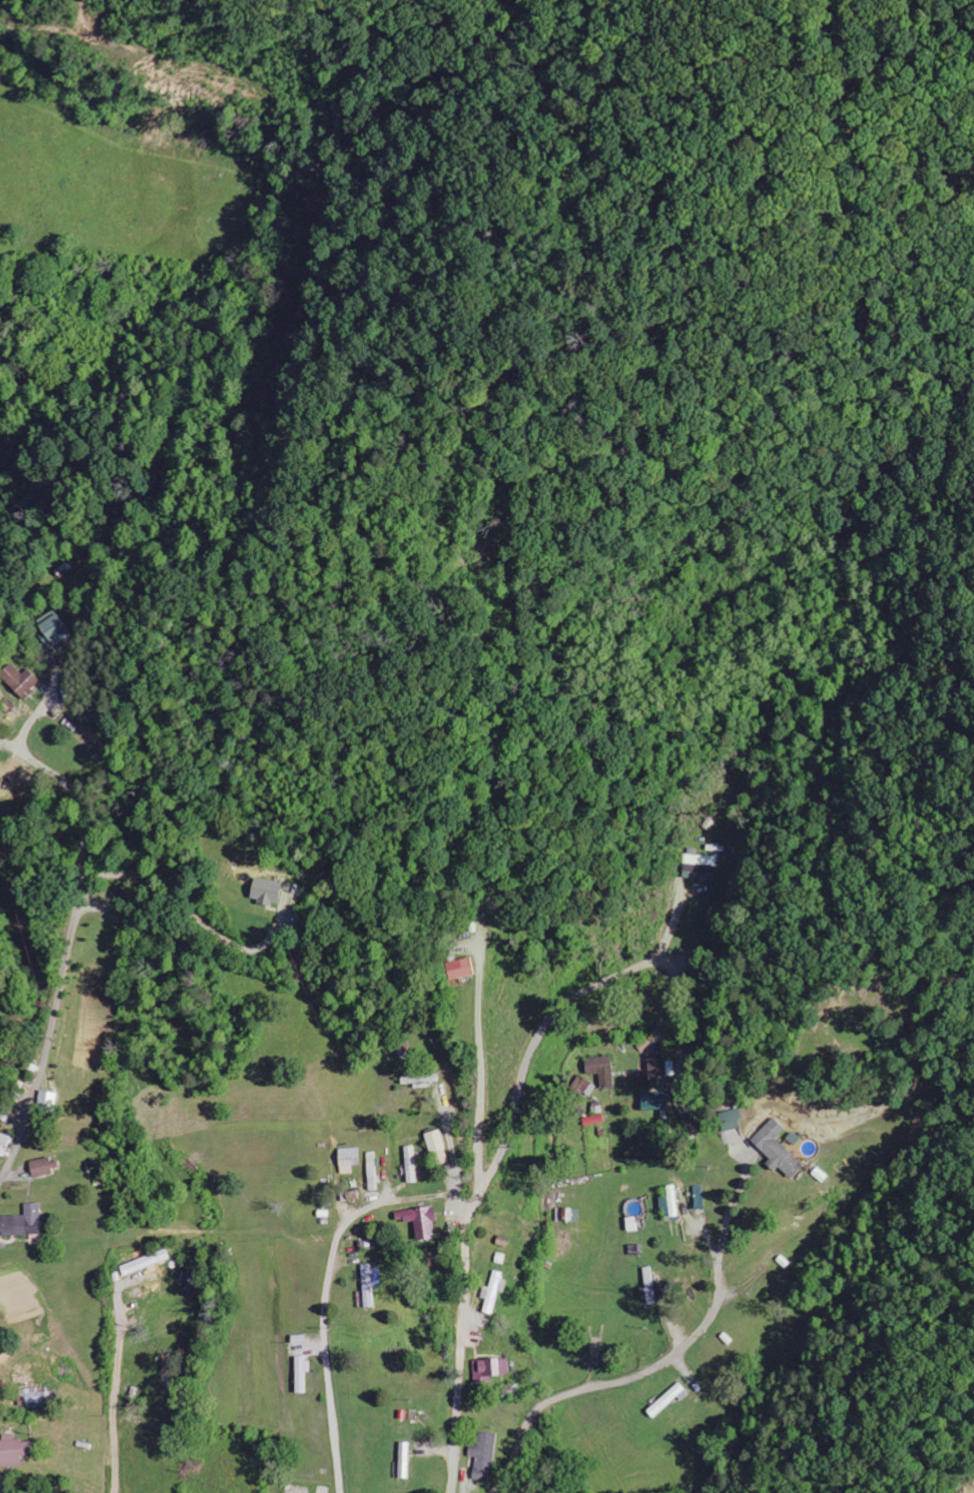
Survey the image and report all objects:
building: (55, 630)
building: (22, 680)
building: (697, 867)
building: (265, 891)
road: (69, 950)
building: (461, 968)
building: (655, 1064)
building: (599, 1070)
building: (419, 1079)
building: (583, 1086)
building: (46, 1100)
building: (653, 1101)
building: (731, 1119)
building: (689, 1124)
building: (3, 1144)
building: (776, 1149)
building: (348, 1160)
building: (409, 1164)
building: (42, 1167)
road: (495, 1167)
building: (372, 1172)
building: (670, 1201)
building: (566, 1215)
building: (418, 1221)
building: (21, 1222)
building: (502, 1242)
building: (144, 1263)
building: (369, 1284)
building: (648, 1285)
building: (493, 1292)
building: (489, 1368)
building: (300, 1374)
road: (616, 1383)
building: (33, 1398)
building: (665, 1400)
building: (12, 1451)
building: (482, 1457)
building: (404, 1461)
building: (295, 1490)

